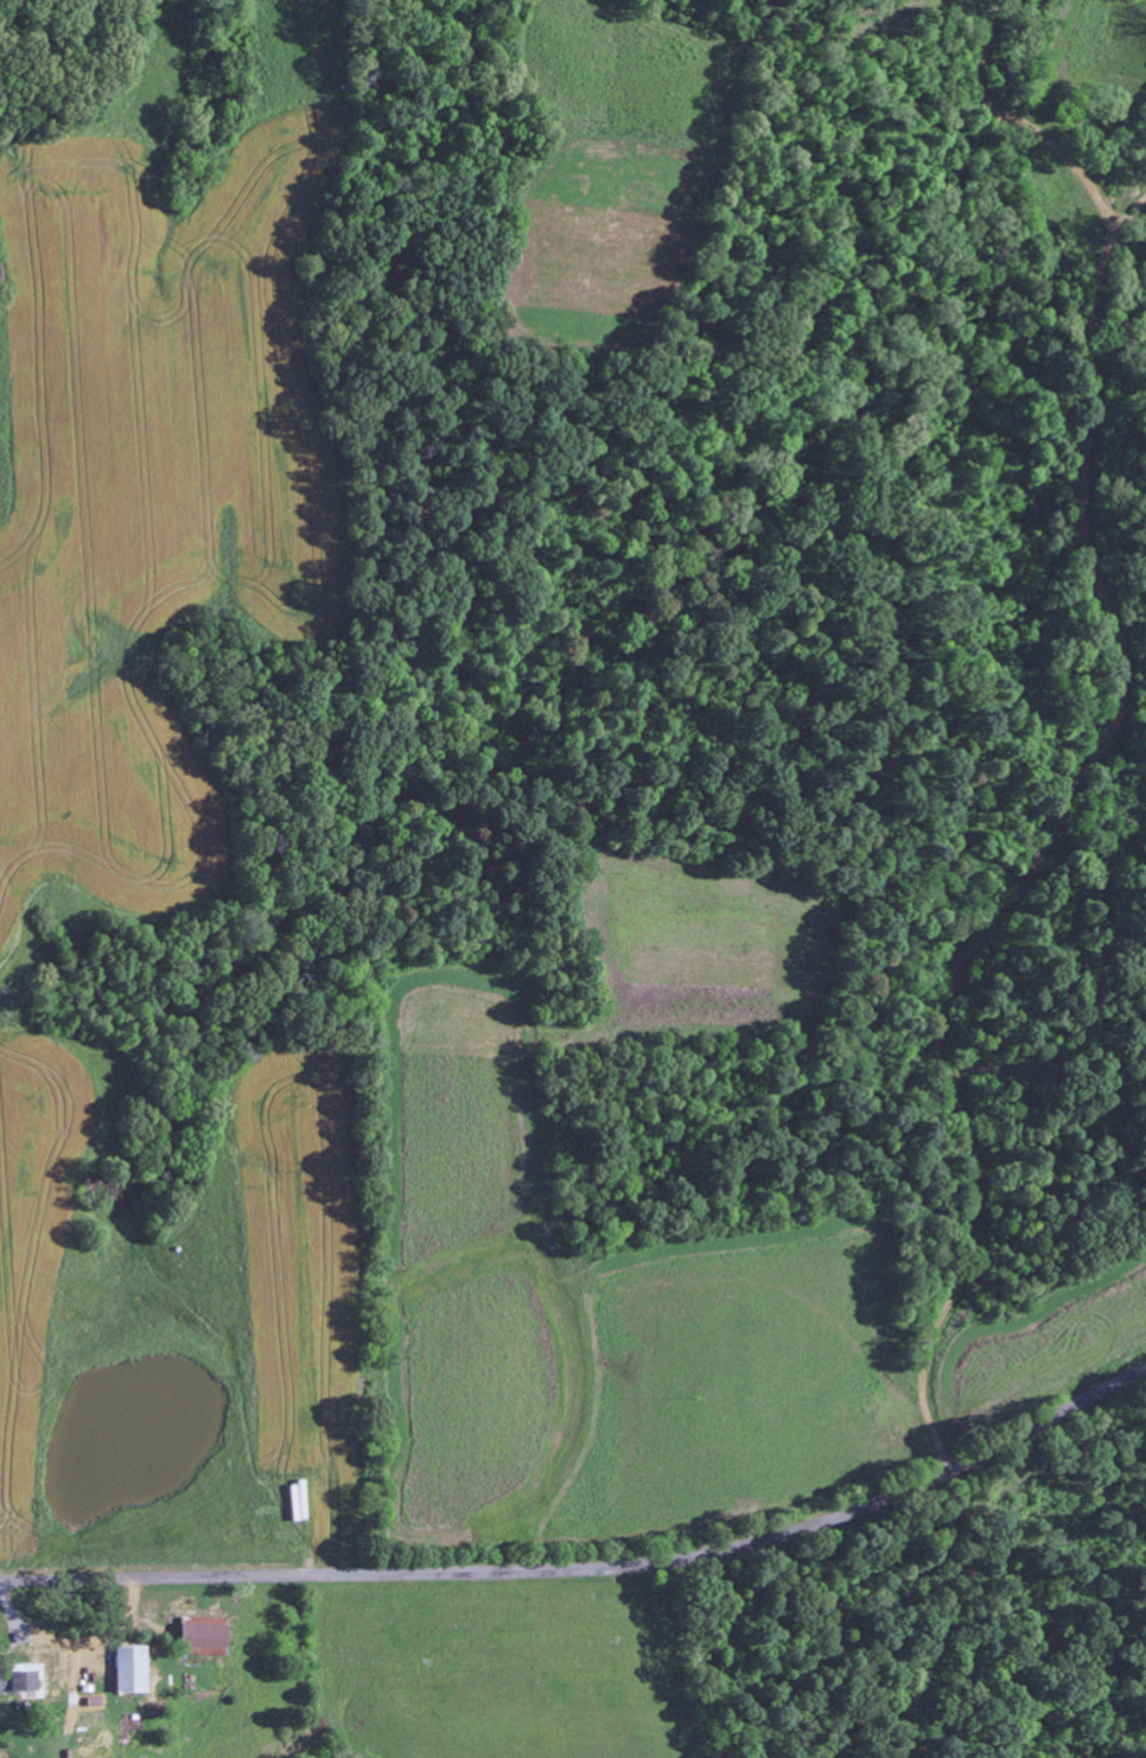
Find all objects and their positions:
road: (593, 1569)
building: (200, 1638)
building: (129, 1670)
building: (19, 1682)

